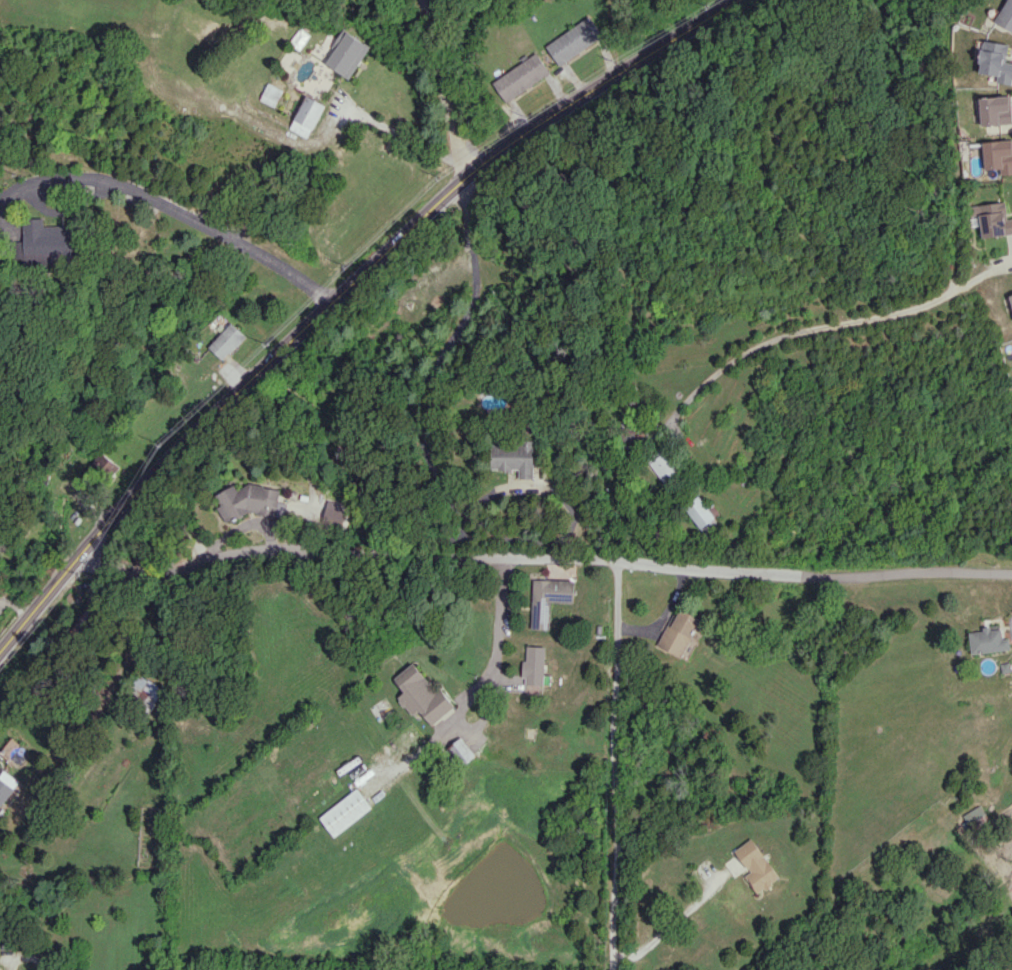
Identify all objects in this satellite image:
building: (573, 40)
building: (347, 54)
building: (995, 61)
building: (519, 76)
road: (443, 88)
building: (271, 94)
building: (995, 110)
building: (308, 116)
road: (403, 134)
building: (998, 155)
road: (173, 207)
building: (991, 219)
building: (49, 242)
road: (1004, 267)
road: (339, 292)
building: (1010, 299)
road: (816, 335)
building: (226, 341)
road: (418, 431)
building: (512, 458)
building: (104, 463)
building: (659, 464)
building: (704, 516)
road: (542, 563)
building: (548, 599)
building: (680, 634)
building: (988, 640)
building: (535, 666)
road: (480, 683)
building: (144, 691)
building: (422, 695)
building: (462, 751)
road: (615, 769)
building: (5, 784)
building: (345, 812)
building: (977, 817)
building: (757, 865)
road: (674, 926)
road: (31, 958)

